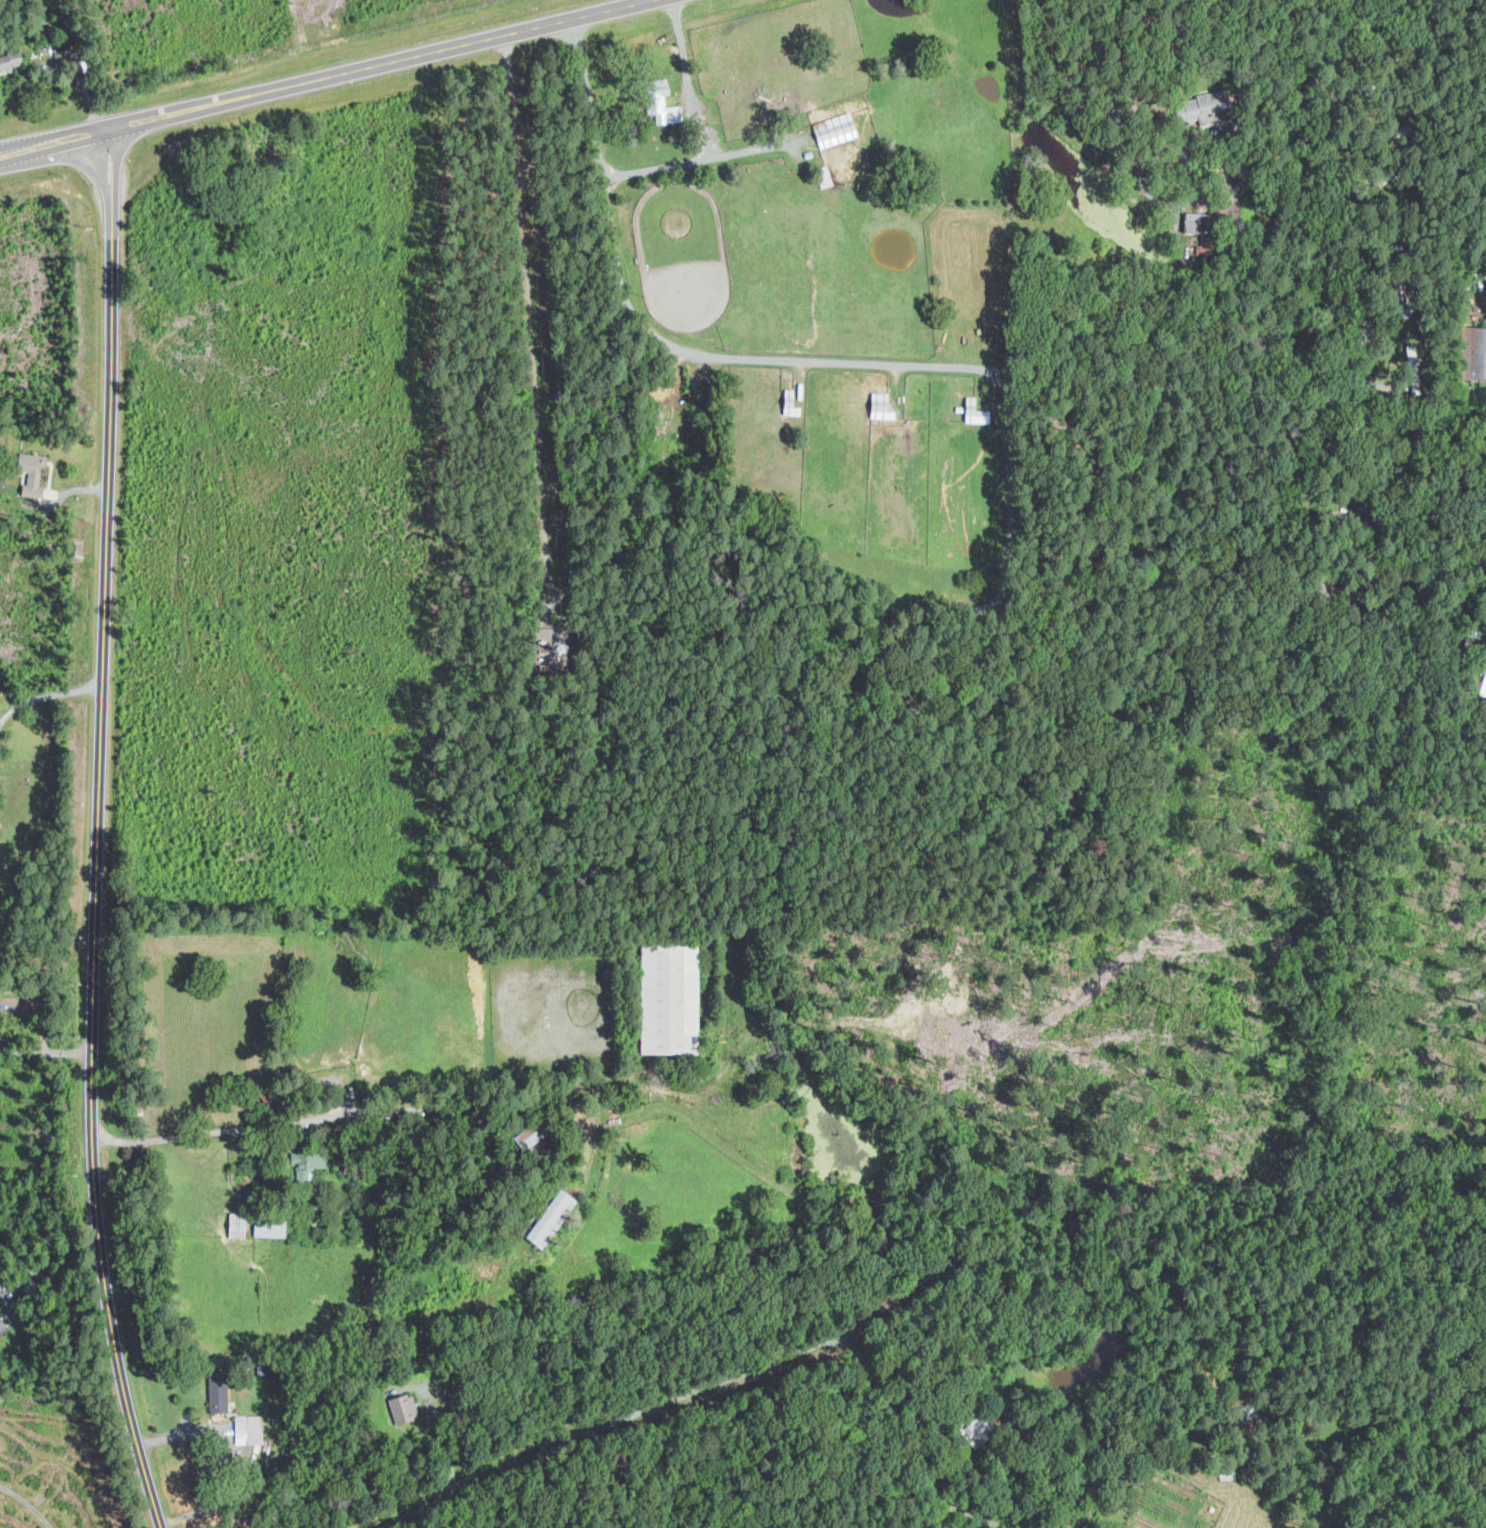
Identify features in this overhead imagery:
building: (1383, 50)
building: (11, 59)
road: (350, 69)
road: (84, 90)
building: (1379, 91)
building: (663, 102)
building: (1209, 107)
road: (704, 126)
building: (836, 130)
building: (1384, 134)
road: (30, 147)
road: (115, 171)
road: (103, 174)
building: (1390, 176)
building: (1196, 222)
road: (1349, 281)
road: (528, 322)
building: (1473, 352)
road: (785, 360)
building: (882, 406)
building: (976, 412)
building: (32, 474)
road: (1009, 514)
building: (1472, 631)
road: (48, 694)
road: (103, 876)
building: (670, 1001)
road: (49, 1049)
road: (191, 1132)
building: (531, 1137)
building: (309, 1163)
building: (552, 1216)
building: (238, 1224)
building: (271, 1226)
road: (45, 1264)
road: (918, 1294)
building: (5, 1322)
road: (865, 1362)
building: (219, 1397)
building: (405, 1408)
building: (249, 1429)
road: (933, 1477)

